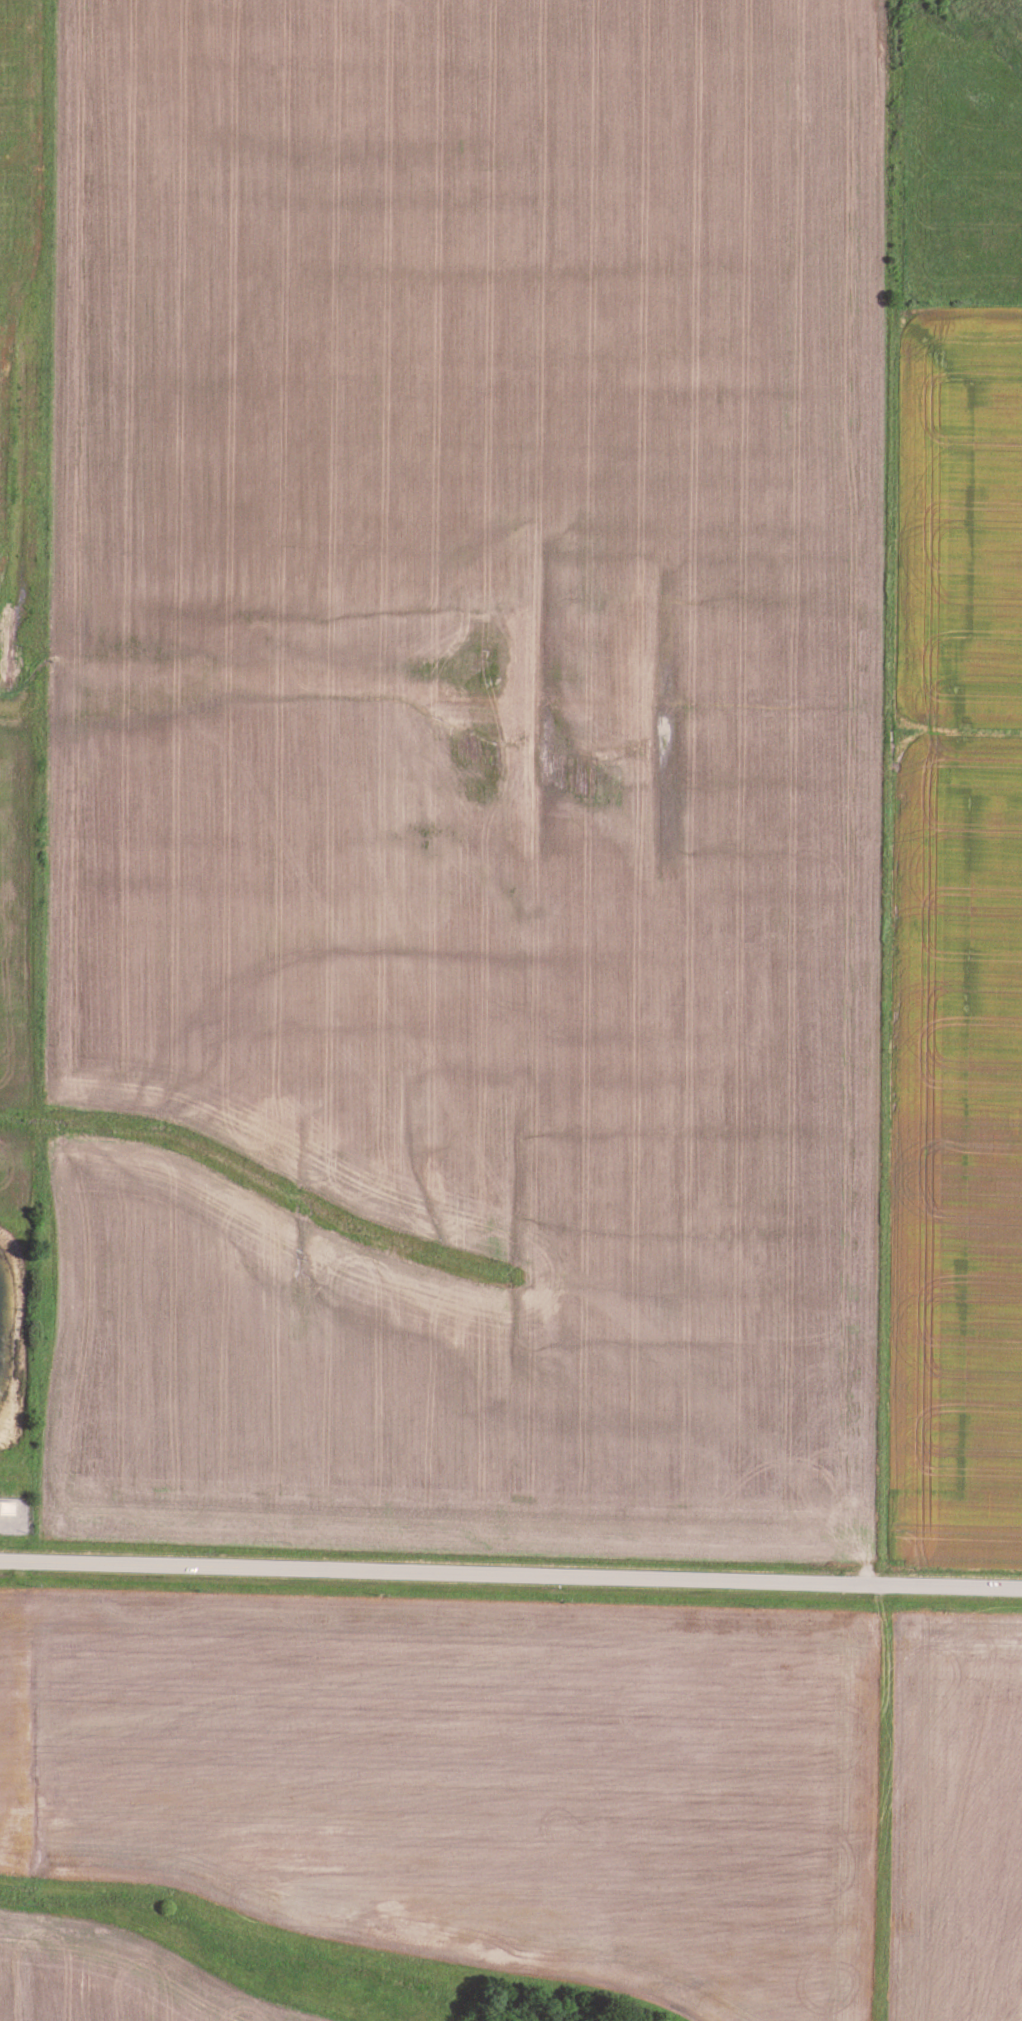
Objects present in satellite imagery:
building: (5, 1505)
road: (510, 1578)

